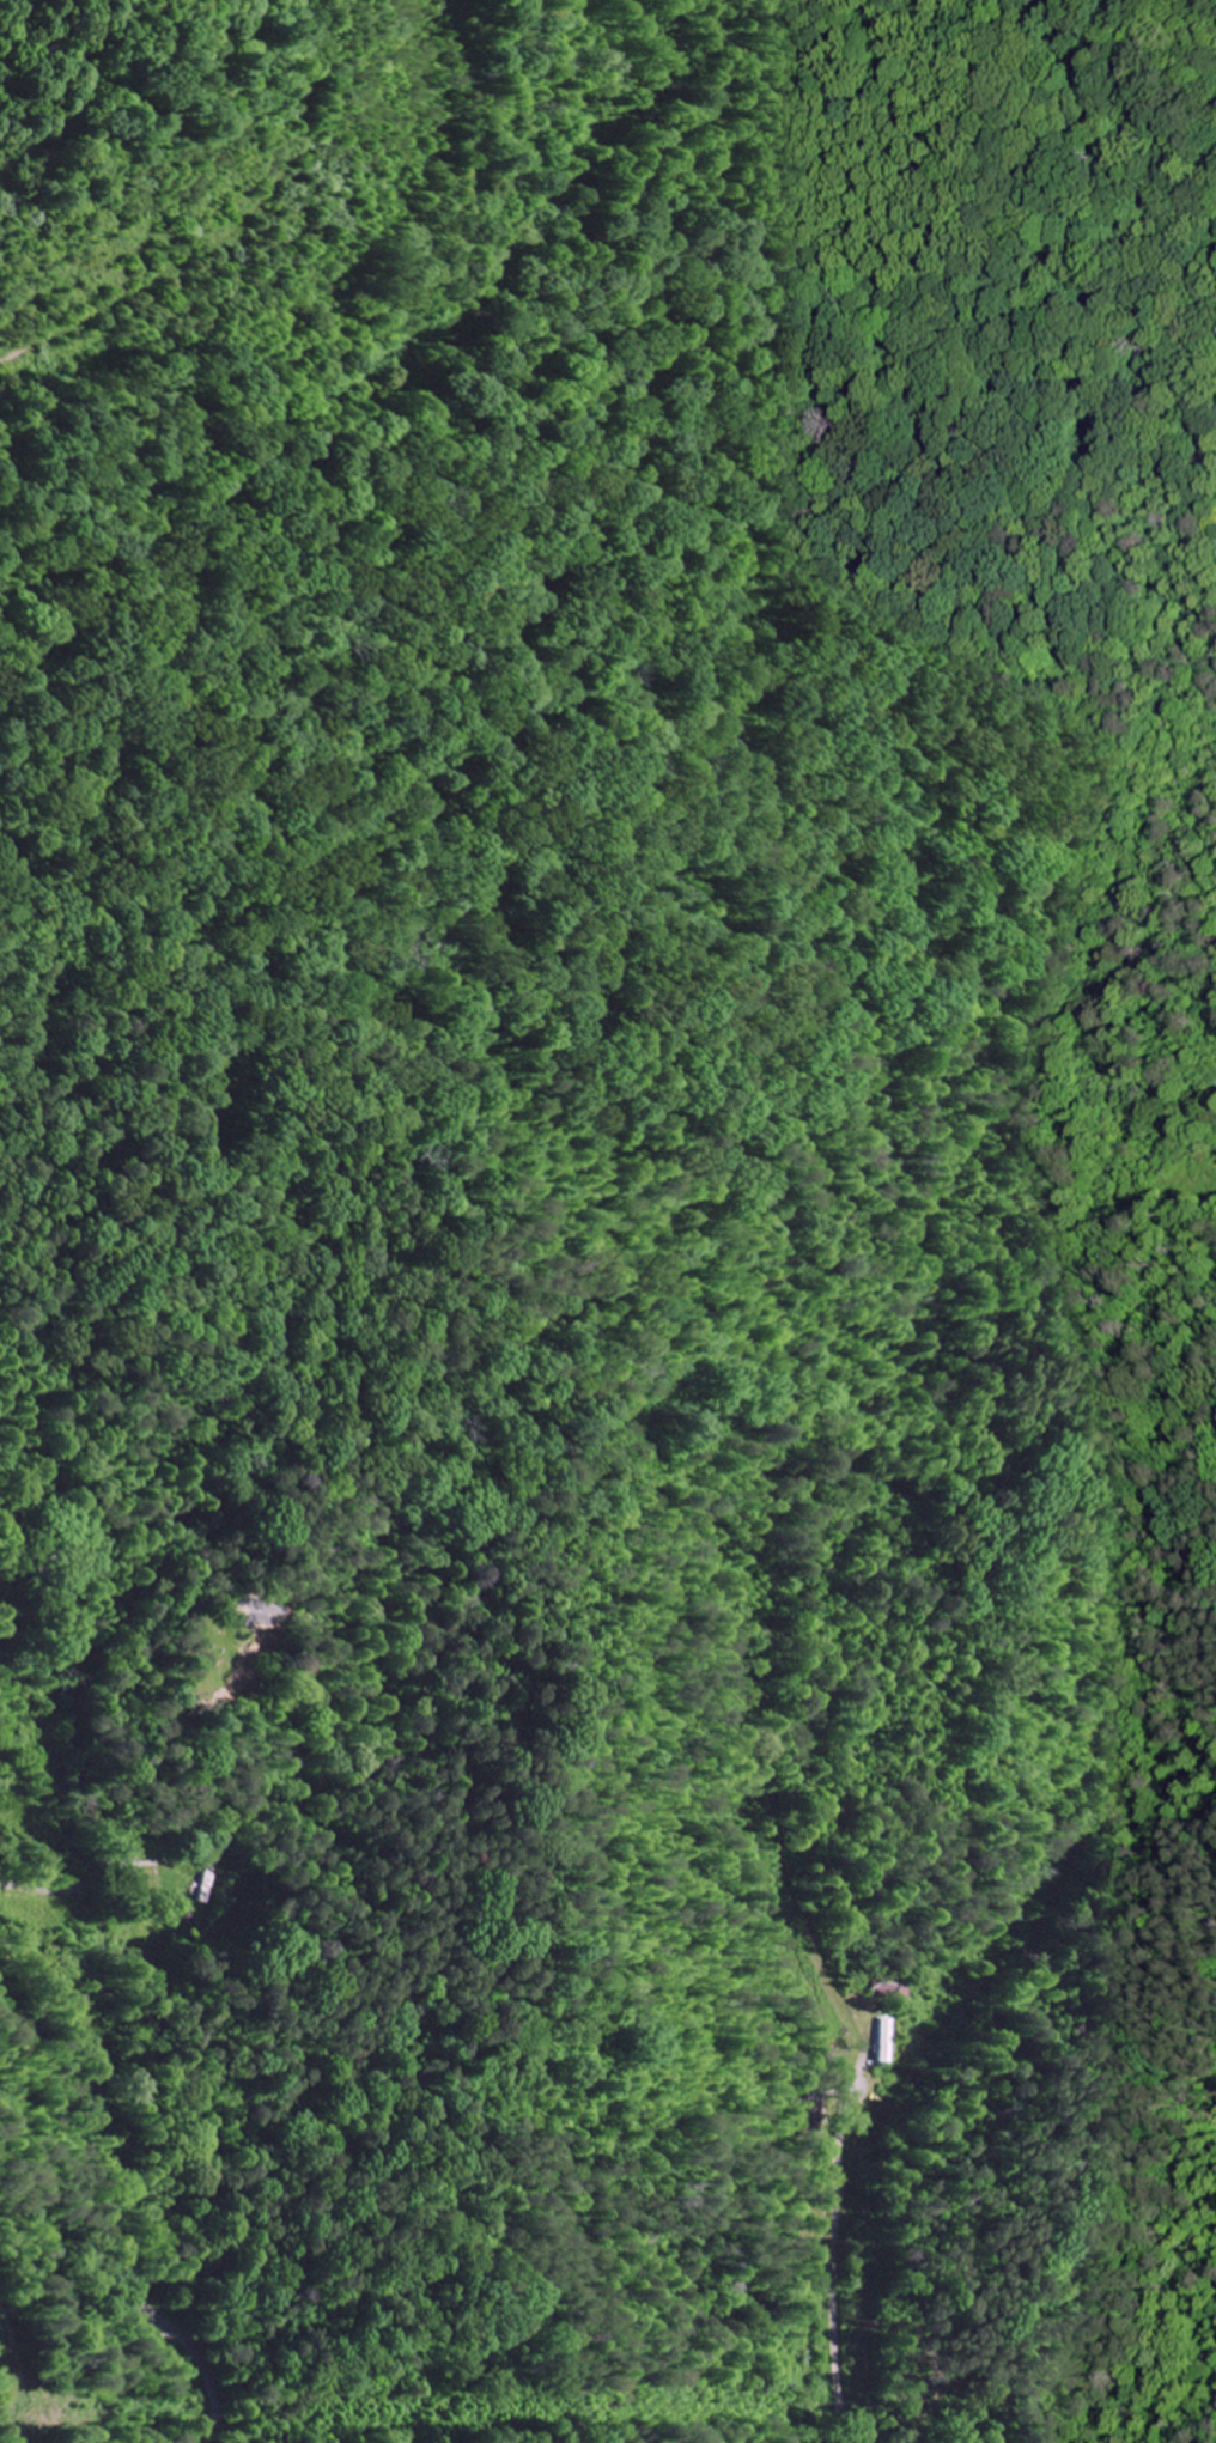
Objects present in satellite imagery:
road: (122, 1858)
road: (90, 2202)
road: (839, 2255)

